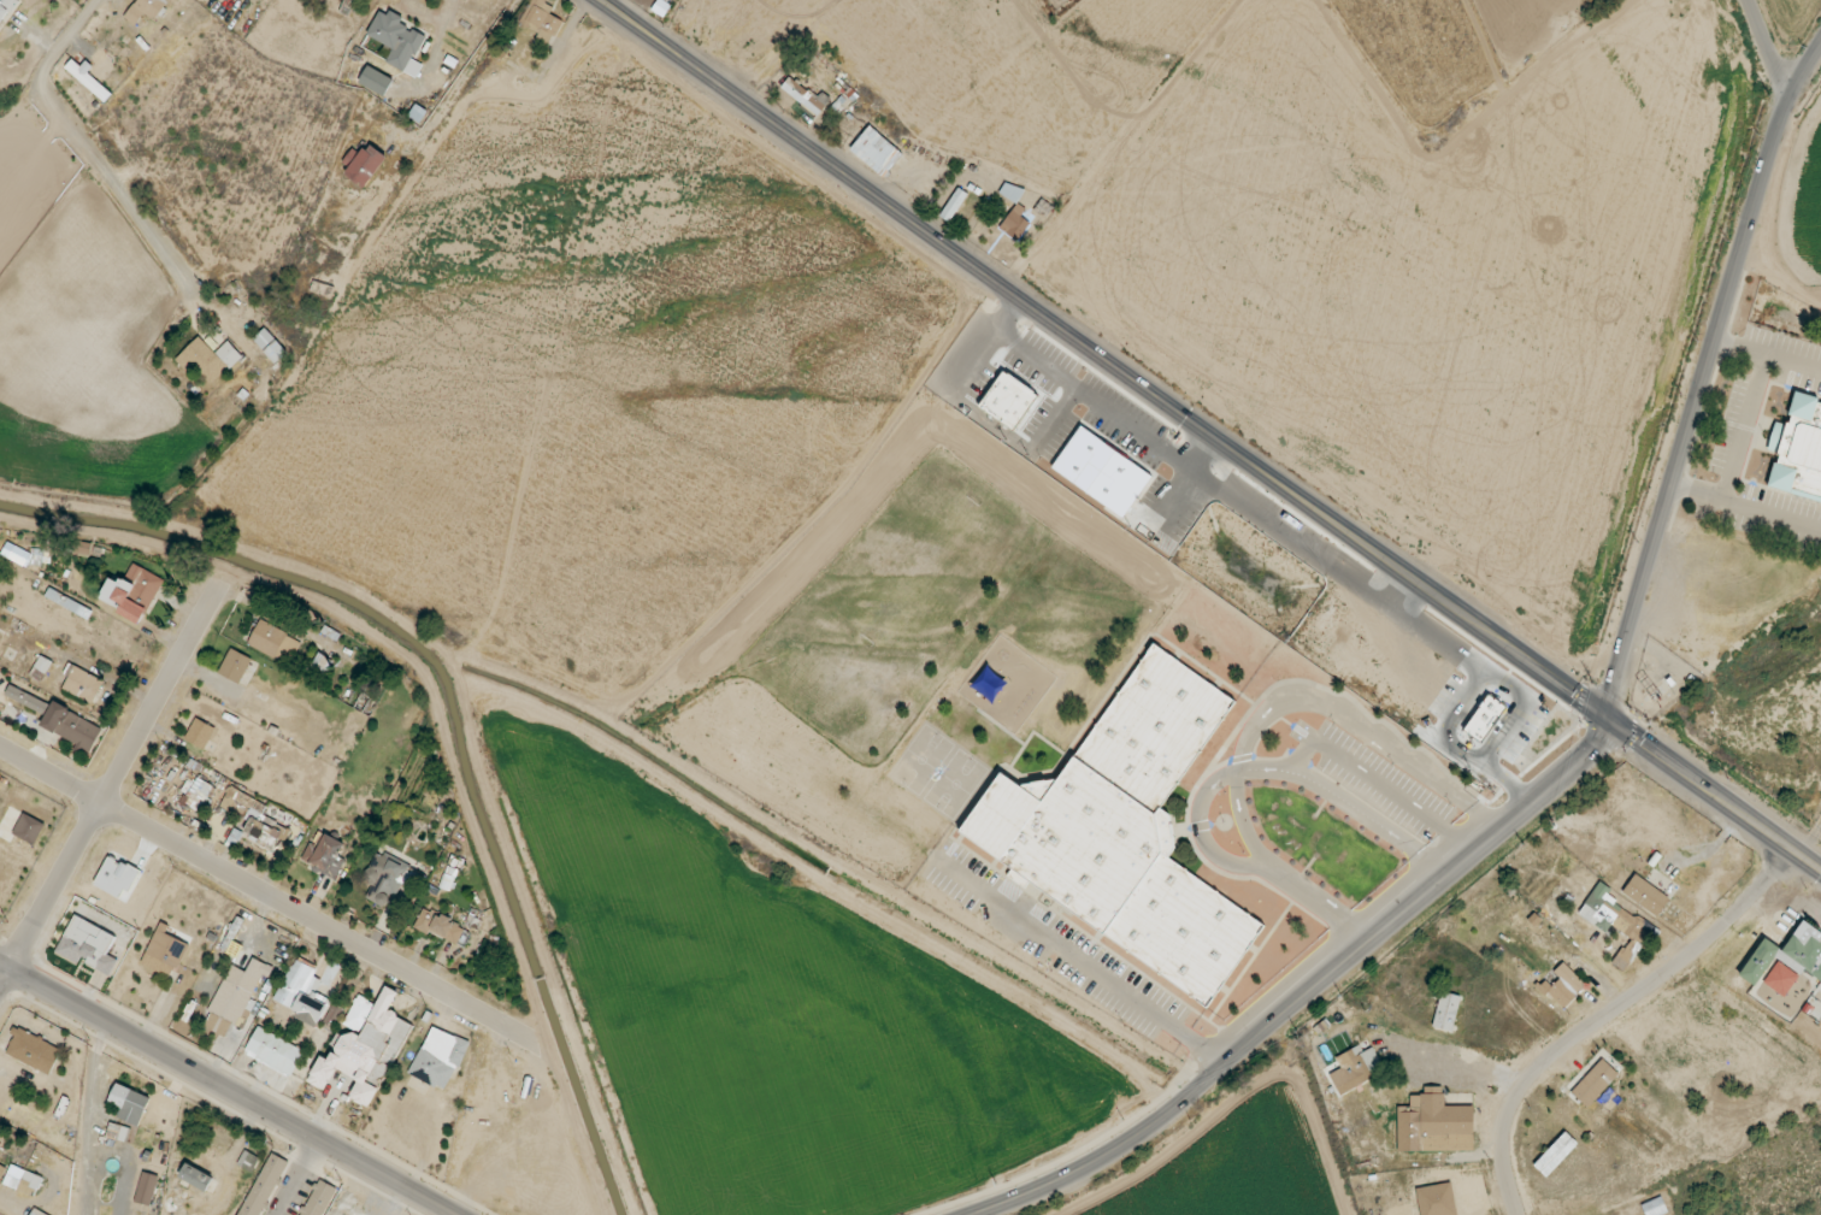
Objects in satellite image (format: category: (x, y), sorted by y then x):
building: (6, 7)
building: (146, 10)
road: (430, 13)
building: (541, 20)
building: (397, 41)
road: (1767, 48)
building: (88, 79)
building: (376, 81)
road: (461, 81)
building: (803, 95)
road: (88, 143)
building: (876, 151)
building: (364, 163)
building: (1010, 191)
building: (954, 204)
building: (1015, 223)
building: (270, 346)
building: (208, 360)
road: (1106, 360)
road: (1703, 378)
building: (1012, 401)
building: (1103, 472)
building: (18, 554)
building: (1250, 570)
building: (132, 592)
building: (275, 642)
building: (235, 666)
building: (319, 666)
building: (41, 668)
building: (82, 684)
building: (25, 698)
building: (1484, 715)
traffic signals: (1611, 719)
building: (72, 726)
building: (200, 733)
road: (110, 785)
road: (1716, 794)
building: (198, 795)
building: (29, 828)
building: (1127, 831)
building: (263, 832)
building: (325, 854)
building: (385, 881)
road: (260, 891)
building: (1645, 895)
building: (1615, 922)
building: (440, 926)
building: (88, 944)
building: (165, 952)
building: (1787, 955)
building: (1780, 979)
building: (1564, 985)
building: (300, 992)
road: (1315, 992)
building: (234, 997)
building: (1446, 1011)
road: (1608, 1013)
building: (365, 1048)
building: (34, 1050)
building: (273, 1051)
building: (438, 1058)
building: (1356, 1068)
building: (1595, 1083)
road: (229, 1087)
building: (130, 1103)
building: (1434, 1123)
building: (118, 1132)
building: (1555, 1154)
road: (1256, 1155)
building: (248, 1161)
building: (2, 1169)
building: (196, 1176)
building: (23, 1180)
building: (264, 1185)
building: (147, 1189)
building: (317, 1198)
building: (1436, 1199)
building: (352, 1207)
building: (37, 1213)

